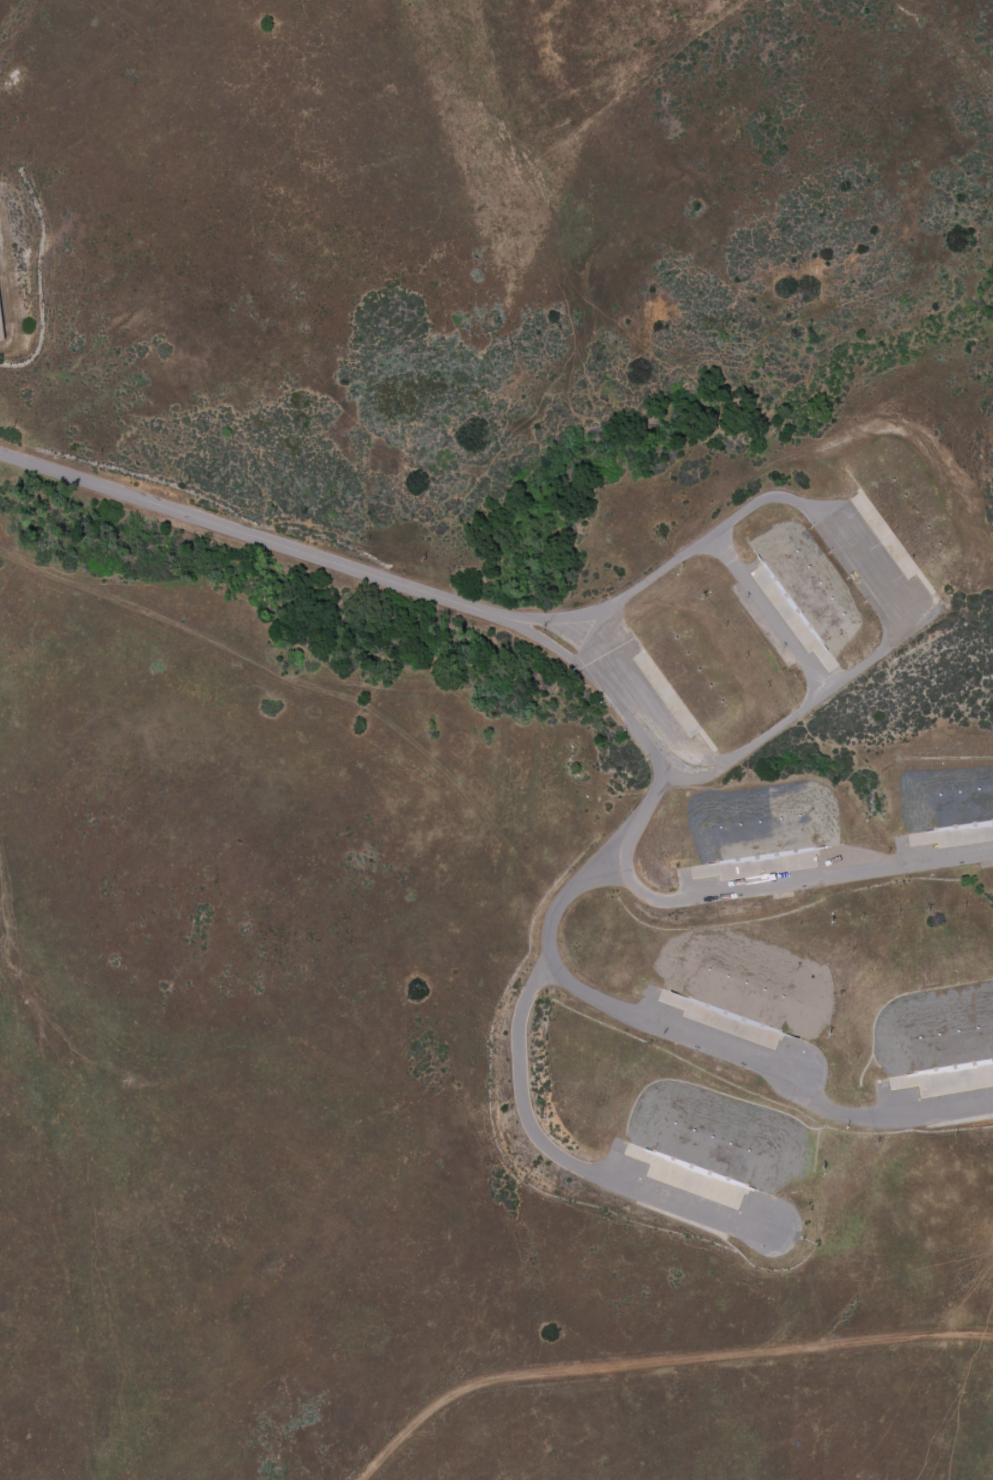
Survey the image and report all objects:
building: (1, 326)
road: (257, 538)
road: (771, 616)
road: (856, 675)
road: (750, 892)
road: (706, 1039)
road: (562, 1160)

